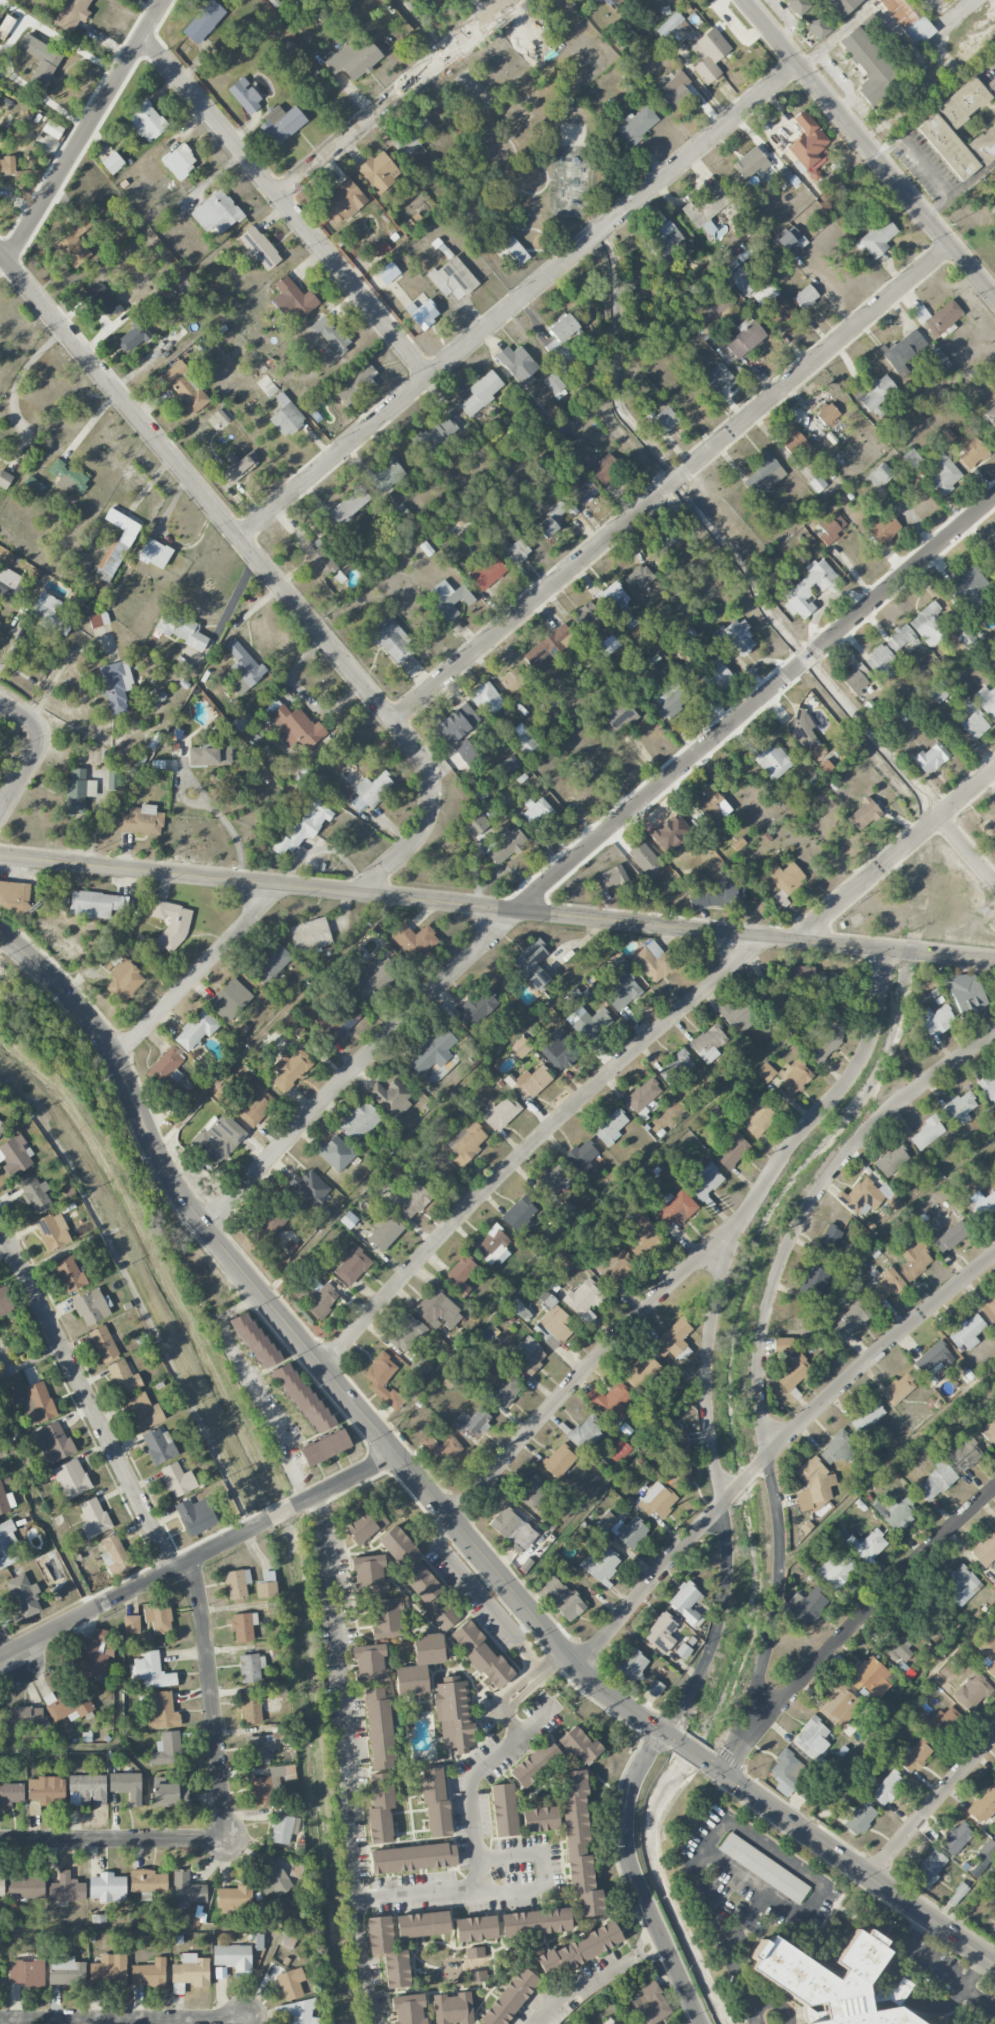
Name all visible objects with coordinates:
building: (430, 1)
building: (798, 6)
building: (840, 6)
building: (72, 13)
building: (908, 19)
building: (203, 21)
building: (5, 26)
building: (818, 27)
building: (674, 29)
road: (58, 39)
building: (709, 54)
building: (41, 58)
building: (353, 60)
building: (869, 65)
building: (991, 85)
building: (676, 92)
building: (245, 96)
road: (946, 96)
road: (393, 97)
building: (963, 102)
building: (146, 121)
building: (280, 124)
building: (637, 125)
building: (52, 129)
road: (85, 130)
park: (531, 132)
building: (412, 134)
building: (807, 141)
building: (985, 144)
building: (948, 147)
road: (868, 148)
building: (179, 160)
building: (112, 162)
building: (750, 163)
building: (7, 165)
road: (926, 167)
building: (379, 171)
building: (783, 173)
building: (814, 175)
road: (972, 177)
building: (343, 202)
road: (285, 206)
building: (707, 206)
building: (216, 213)
building: (708, 227)
building: (878, 238)
building: (791, 241)
building: (75, 243)
building: (665, 243)
building: (508, 247)
building: (259, 248)
building: (382, 248)
road: (3, 266)
building: (730, 267)
building: (387, 273)
building: (452, 278)
building: (742, 281)
road: (819, 288)
building: (805, 296)
building: (292, 298)
building: (104, 300)
road: (517, 301)
building: (773, 303)
building: (711, 310)
building: (422, 313)
building: (938, 317)
building: (331, 334)
building: (133, 337)
building: (744, 338)
building: (562, 343)
building: (903, 352)
building: (517, 364)
building: (592, 364)
road: (19, 374)
building: (717, 377)
building: (553, 383)
building: (357, 384)
building: (185, 386)
building: (481, 392)
building: (877, 393)
building: (826, 413)
building: (990, 415)
building: (286, 416)
building: (221, 417)
building: (434, 438)
building: (794, 443)
building: (971, 452)
building: (912, 459)
building: (239, 465)
building: (604, 468)
building: (943, 473)
building: (385, 475)
building: (763, 475)
building: (879, 475)
building: (68, 476)
building: (4, 479)
road: (671, 482)
building: (817, 483)
building: (31, 486)
building: (582, 491)
building: (349, 505)
building: (555, 517)
building: (459, 518)
building: (831, 527)
building: (884, 529)
building: (664, 539)
building: (115, 548)
building: (516, 552)
building: (154, 553)
building: (314, 553)
building: (991, 554)
road: (267, 571)
building: (486, 571)
building: (339, 577)
building: (637, 577)
building: (10, 585)
building: (967, 585)
building: (799, 589)
building: (613, 598)
building: (449, 599)
building: (52, 614)
building: (587, 617)
building: (98, 619)
building: (628, 620)
building: (929, 625)
building: (181, 630)
building: (736, 637)
building: (899, 638)
building: (391, 640)
building: (549, 646)
building: (606, 646)
building: (881, 662)
building: (242, 668)
building: (717, 675)
building: (856, 677)
building: (513, 680)
building: (115, 684)
building: (937, 693)
building: (485, 698)
building: (669, 699)
building: (986, 700)
building: (619, 716)
building: (973, 721)
building: (239, 723)
building: (456, 724)
building: (297, 727)
building: (802, 729)
building: (525, 740)
road: (35, 750)
building: (465, 750)
building: (209, 756)
building: (930, 758)
building: (773, 761)
building: (511, 764)
building: (825, 766)
building: (113, 779)
building: (370, 790)
building: (77, 792)
building: (336, 796)
building: (506, 799)
road: (212, 804)
building: (711, 804)
building: (539, 813)
building: (863, 814)
building: (141, 820)
building: (476, 825)
building: (682, 826)
building: (303, 827)
building: (990, 827)
building: (738, 844)
building: (505, 845)
road: (968, 846)
road: (586, 848)
road: (895, 854)
building: (645, 859)
building: (609, 877)
building: (784, 881)
building: (720, 894)
building: (14, 896)
park: (919, 902)
building: (95, 904)
road: (497, 909)
building: (171, 925)
building: (311, 936)
building: (415, 939)
building: (529, 956)
building: (654, 962)
building: (270, 963)
building: (619, 964)
road: (196, 975)
building: (798, 975)
building: (537, 979)
building: (123, 980)
building: (370, 980)
building: (767, 990)
building: (620, 992)
building: (964, 992)
building: (229, 1000)
building: (477, 1008)
building: (740, 1017)
building: (935, 1019)
building: (588, 1020)
building: (286, 1022)
building: (339, 1022)
building: (195, 1031)
building: (301, 1034)
building: (826, 1042)
building: (708, 1043)
building: (520, 1047)
building: (554, 1047)
building: (432, 1051)
building: (675, 1067)
building: (166, 1068)
building: (290, 1069)
building: (764, 1072)
building: (794, 1077)
road: (925, 1081)
building: (529, 1082)
building: (989, 1086)
building: (390, 1096)
building: (642, 1096)
building: (255, 1105)
building: (960, 1108)
building: (502, 1113)
building: (758, 1117)
building: (360, 1121)
building: (610, 1127)
building: (2, 1128)
building: (926, 1133)
building: (218, 1138)
building: (466, 1143)
road: (533, 1144)
building: (731, 1151)
building: (335, 1153)
building: (15, 1156)
building: (580, 1157)
building: (892, 1162)
building: (705, 1181)
building: (553, 1182)
building: (309, 1187)
building: (379, 1187)
building: (35, 1194)
building: (868, 1196)
building: (411, 1199)
building: (983, 1203)
building: (676, 1208)
building: (566, 1212)
building: (519, 1215)
building: (348, 1219)
building: (272, 1222)
building: (53, 1230)
building: (384, 1233)
building: (640, 1236)
building: (950, 1237)
road: (4, 1242)
building: (826, 1242)
building: (492, 1247)
building: (562, 1257)
building: (914, 1259)
building: (616, 1265)
building: (352, 1266)
building: (69, 1274)
building: (459, 1276)
building: (812, 1284)
building: (885, 1284)
building: (319, 1298)
road: (136, 1299)
building: (584, 1300)
building: (4, 1302)
building: (91, 1306)
building: (519, 1309)
building: (989, 1309)
building: (438, 1310)
building: (848, 1321)
building: (553, 1327)
building: (967, 1332)
building: (406, 1334)
building: (673, 1340)
building: (103, 1343)
building: (783, 1345)
building: (528, 1355)
building: (931, 1359)
road: (31, 1363)
building: (420, 1366)
road: (584, 1370)
building: (640, 1371)
building: (793, 1372)
building: (123, 1377)
building: (382, 1379)
road: (254, 1389)
building: (898, 1389)
building: (506, 1392)
road: (86, 1396)
building: (302, 1398)
building: (613, 1401)
building: (37, 1403)
building: (143, 1412)
building: (866, 1417)
building: (473, 1423)
road: (763, 1424)
building: (989, 1431)
building: (585, 1432)
building: (53, 1443)
building: (158, 1445)
building: (325, 1447)
building: (441, 1449)
road: (773, 1449)
building: (837, 1449)
building: (617, 1450)
building: (965, 1454)
building: (679, 1458)
building: (558, 1461)
building: (71, 1478)
building: (177, 1480)
building: (935, 1481)
road: (717, 1482)
building: (813, 1485)
building: (531, 1491)
road: (37, 1498)
building: (656, 1500)
building: (6, 1501)
road: (439, 1505)
road: (322, 1506)
building: (894, 1511)
building: (195, 1516)
building: (93, 1518)
building: (546, 1523)
building: (365, 1524)
building: (510, 1525)
building: (622, 1529)
building: (7, 1544)
building: (868, 1545)
building: (398, 1546)
building: (984, 1551)
building: (114, 1555)
road: (199, 1557)
building: (602, 1565)
building: (836, 1571)
building: (369, 1574)
building: (267, 1576)
building: (237, 1583)
building: (960, 1584)
building: (993, 1584)
building: (265, 1589)
road: (479, 1592)
building: (24, 1594)
building: (431, 1597)
building: (562, 1598)
building: (686, 1603)
building: (804, 1607)
building: (158, 1616)
building: (387, 1618)
building: (131, 1624)
building: (243, 1626)
road: (852, 1626)
building: (661, 1633)
road: (4, 1645)
building: (898, 1649)
building: (988, 1653)
building: (480, 1654)
building: (93, 1655)
building: (369, 1664)
building: (419, 1665)
building: (632, 1665)
building: (251, 1668)
building: (151, 1671)
building: (871, 1677)
road: (524, 1682)
building: (655, 1688)
building: (970, 1691)
road: (212, 1700)
road: (344, 1705)
building: (67, 1706)
building: (839, 1706)
building: (251, 1709)
building: (160, 1711)
building: (453, 1714)
building: (23, 1718)
building: (938, 1722)
road: (117, 1728)
building: (379, 1729)
traffic signals: (663, 1733)
building: (812, 1739)
building: (578, 1745)
road: (59, 1746)
building: (167, 1748)
building: (259, 1749)
building: (915, 1757)
building: (534, 1763)
building: (787, 1772)
traffic signals: (720, 1773)
building: (270, 1783)
building: (126, 1786)
building: (886, 1787)
building: (46, 1790)
building: (87, 1790)
building: (11, 1793)
building: (170, 1795)
building: (434, 1801)
building: (982, 1805)
road: (931, 1806)
building: (380, 1808)
building: (503, 1810)
building: (859, 1817)
building: (539, 1819)
building: (283, 1828)
road: (114, 1839)
building: (955, 1839)
building: (578, 1843)
building: (985, 1852)
road: (476, 1856)
building: (412, 1858)
road: (543, 1866)
building: (763, 1868)
building: (928, 1869)
building: (274, 1878)
building: (147, 1881)
building: (24, 1885)
building: (1, 1886)
building: (107, 1887)
building: (66, 1888)
building: (187, 1889)
road: (820, 1889)
building: (957, 1894)
building: (235, 1900)
road: (747, 1920)
building: (535, 1922)
building: (422, 1924)
building: (993, 1926)
building: (475, 1928)
road: (183, 1929)
road: (718, 1933)
road: (647, 1945)
building: (578, 1950)
building: (387, 1952)
building: (474, 1952)
road: (923, 1956)
building: (233, 1957)
road: (359, 1960)
building: (109, 1969)
building: (191, 1970)
building: (66, 1971)
building: (27, 1972)
building: (149, 1973)
building: (476, 1976)
building: (829, 1979)
building: (290, 1983)
road: (579, 1983)
road: (964, 1988)
building: (510, 1997)
road: (776, 2002)
building: (650, 2004)
building: (452, 2008)
building: (408, 2009)
building: (296, 2012)
road: (122, 2020)
building: (610, 2021)
road: (245, 2022)

